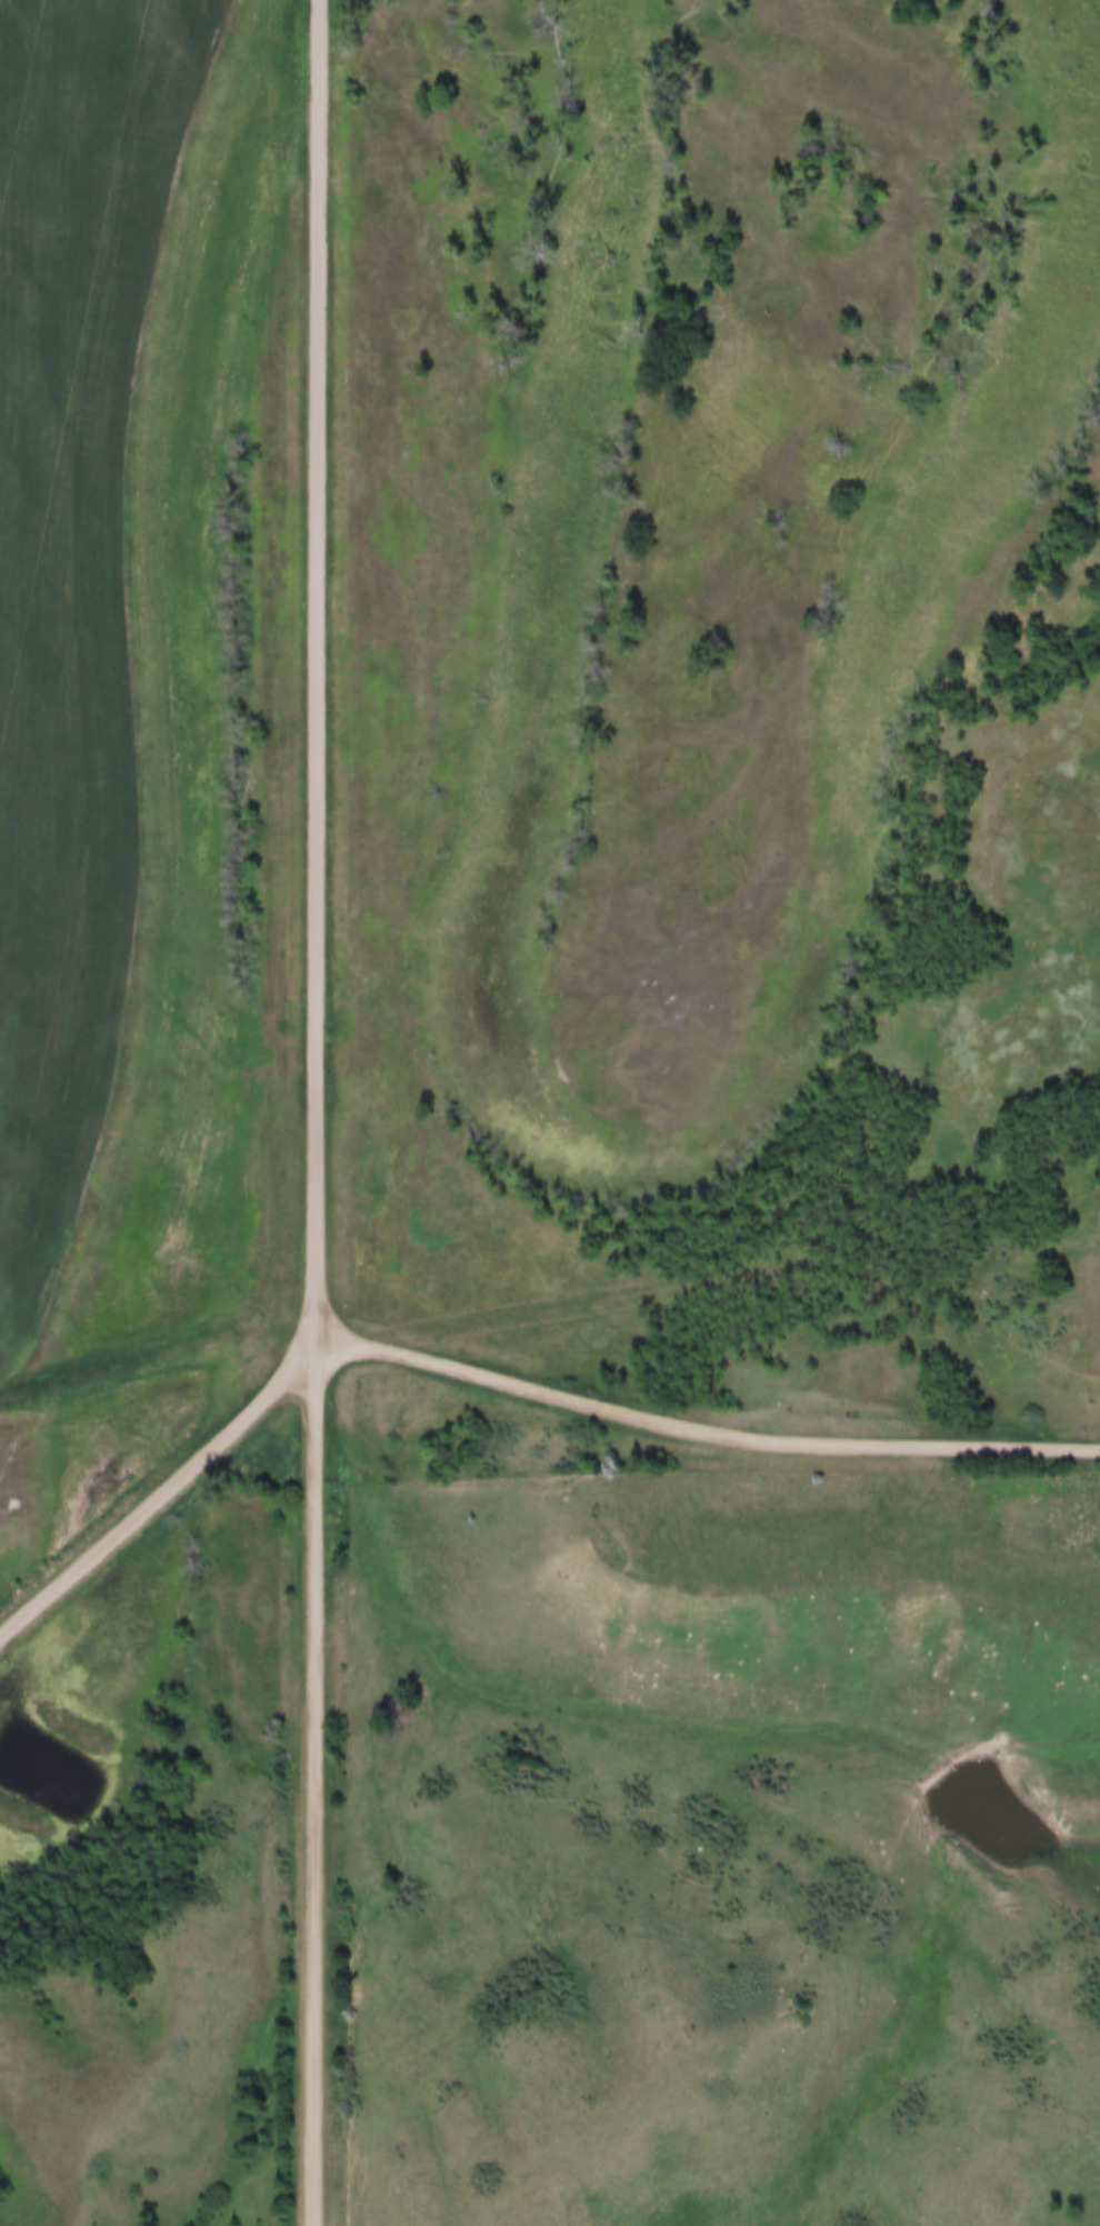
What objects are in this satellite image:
road: (314, 1112)
road: (699, 1439)
road: (166, 1489)

